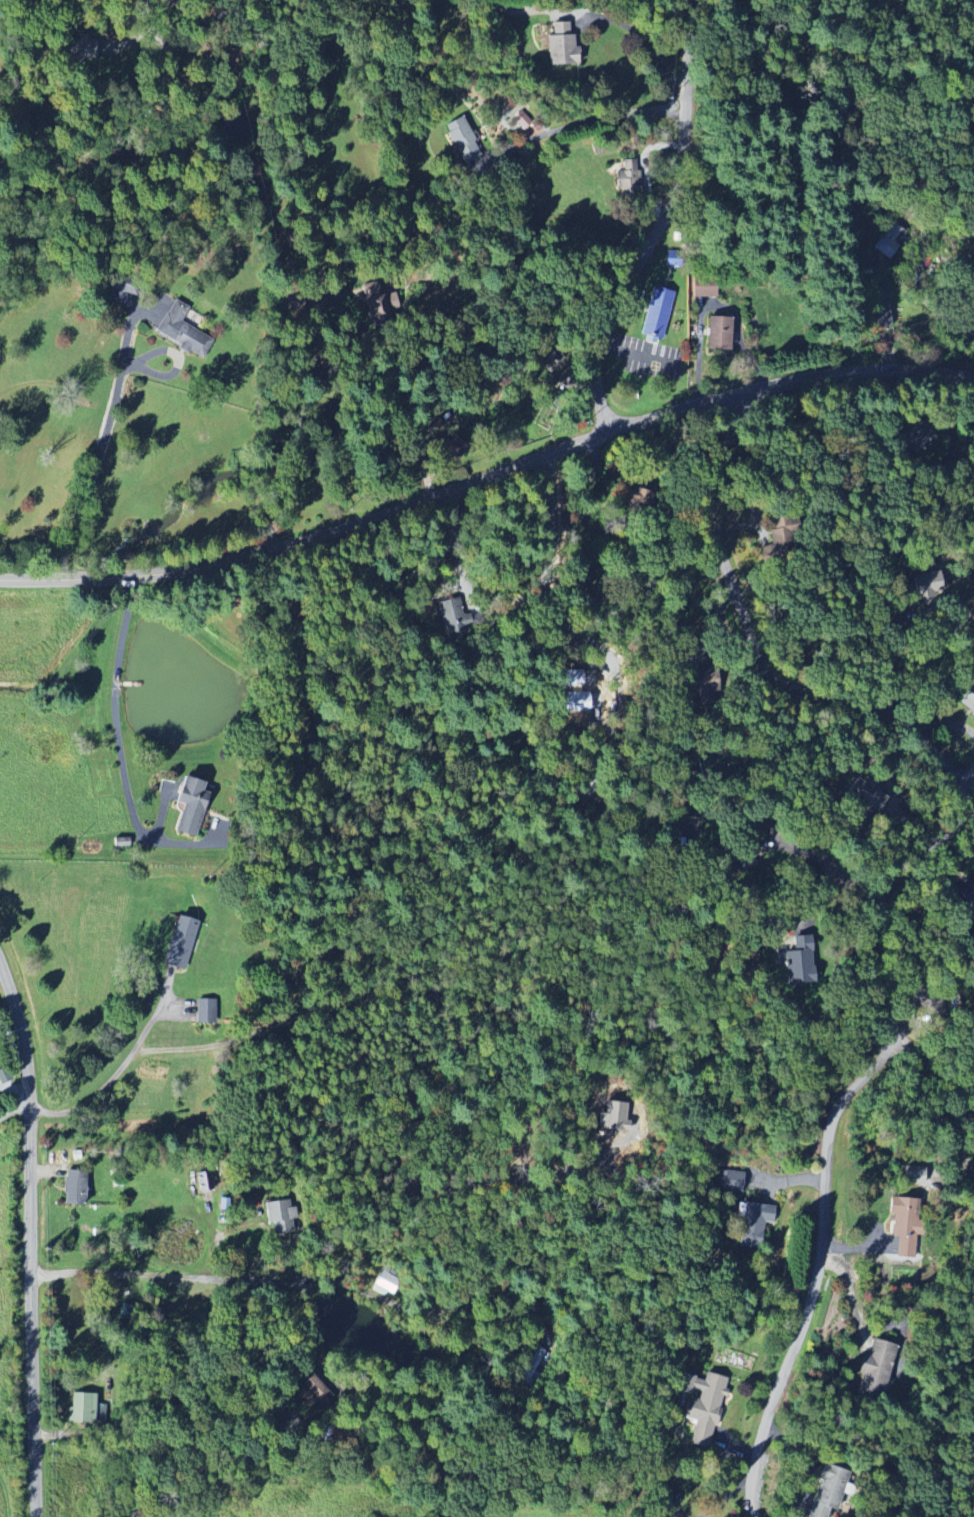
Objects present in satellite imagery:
road: (680, 1)
road: (213, 14)
road: (138, 34)
road: (644, 40)
building: (559, 46)
building: (77, 51)
building: (521, 120)
road: (576, 122)
road: (804, 125)
building: (461, 140)
building: (625, 182)
road: (661, 222)
building: (702, 287)
building: (376, 301)
building: (295, 303)
road: (937, 309)
building: (655, 314)
building: (182, 332)
building: (717, 334)
road: (296, 416)
road: (108, 418)
building: (916, 438)
road: (426, 457)
road: (487, 475)
road: (445, 538)
building: (928, 585)
road: (922, 661)
building: (967, 702)
road: (881, 713)
road: (117, 723)
building: (866, 795)
building: (188, 806)
building: (746, 852)
road: (825, 868)
building: (965, 898)
building: (178, 943)
building: (797, 968)
building: (927, 1002)
road: (114, 1075)
road: (16, 1100)
road: (930, 1111)
building: (612, 1117)
building: (732, 1181)
building: (73, 1188)
building: (282, 1218)
building: (754, 1225)
building: (902, 1225)
road: (37, 1241)
road: (814, 1262)
road: (265, 1274)
building: (386, 1284)
building: (870, 1370)
building: (701, 1405)
building: (84, 1408)
building: (824, 1493)

